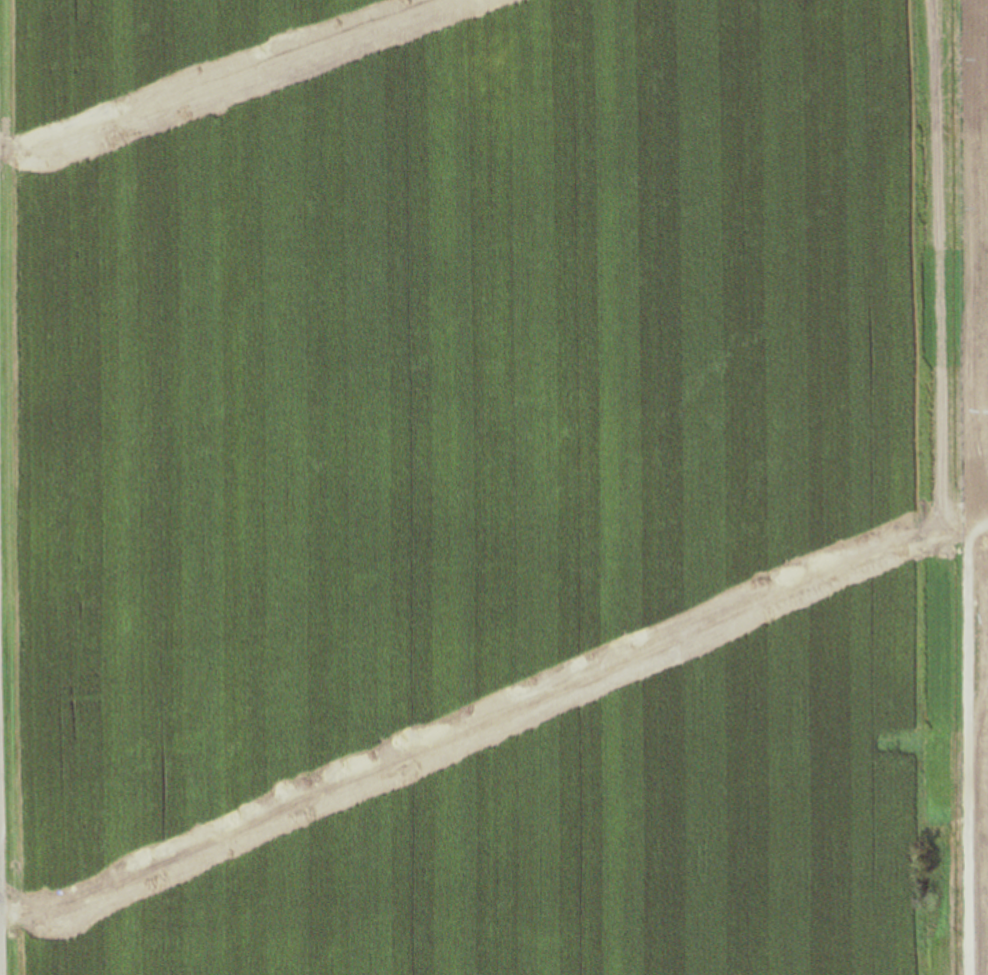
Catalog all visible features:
road: (1, 145)
road: (3, 292)

